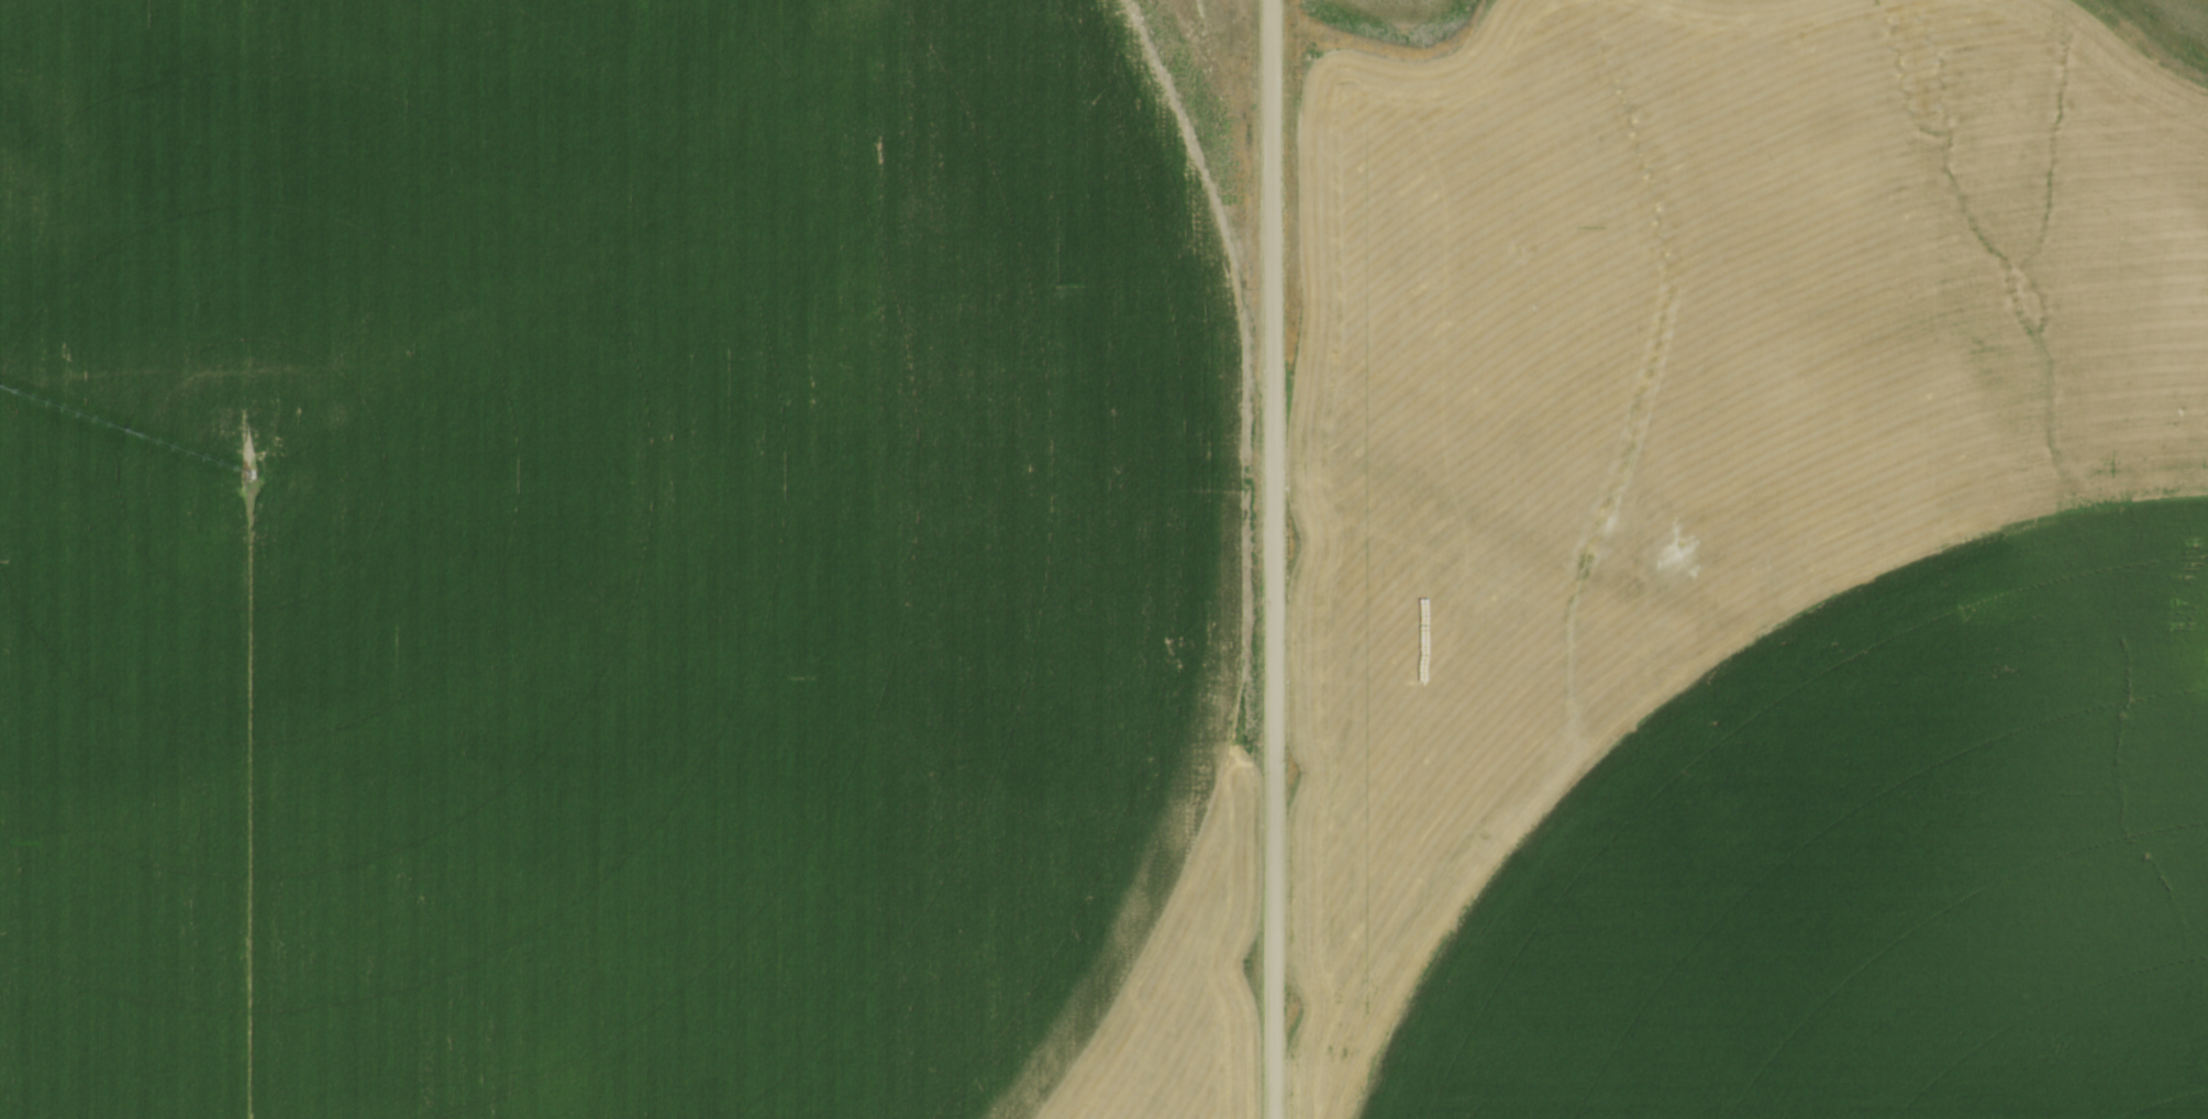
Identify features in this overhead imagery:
road: (1274, 559)

